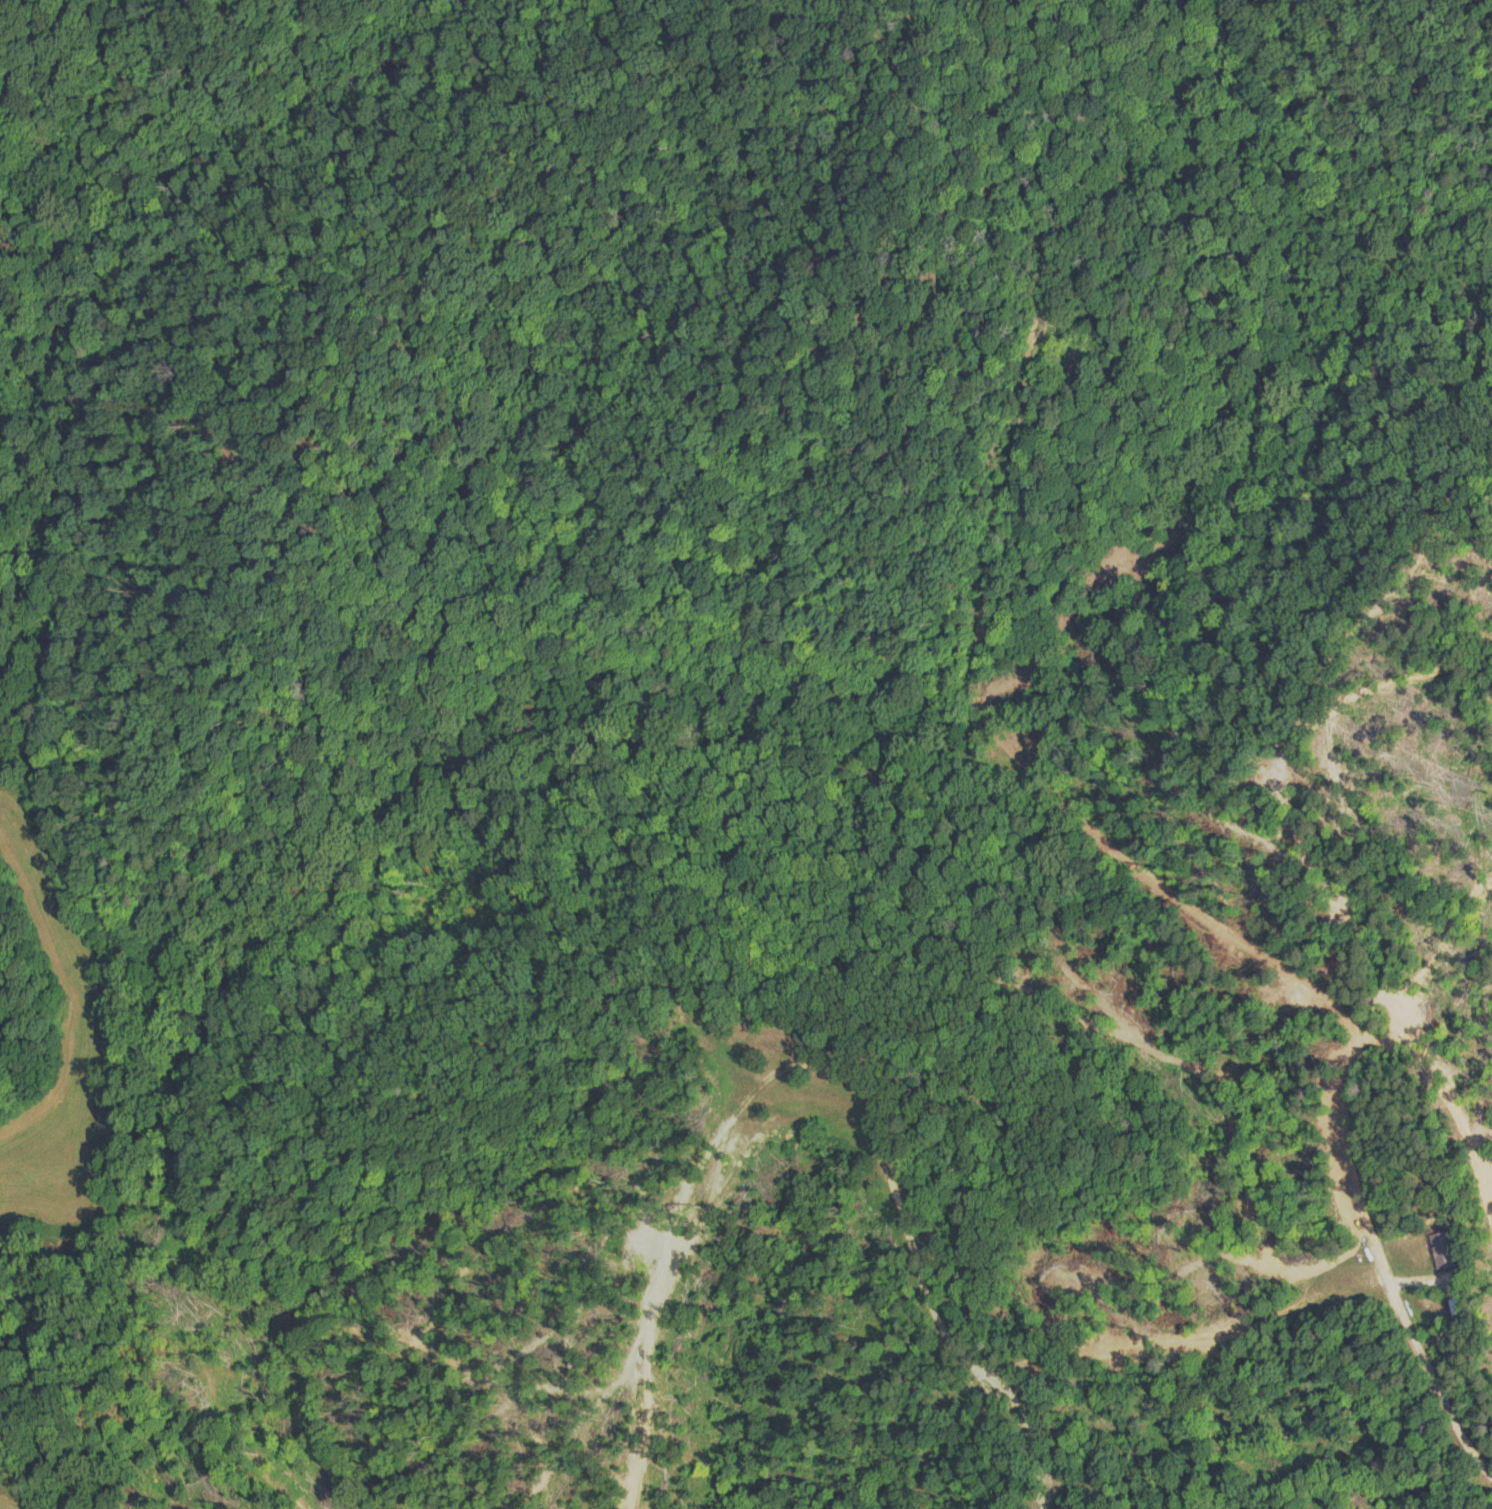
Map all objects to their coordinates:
building: (1441, 1249)
building: (1458, 1308)

